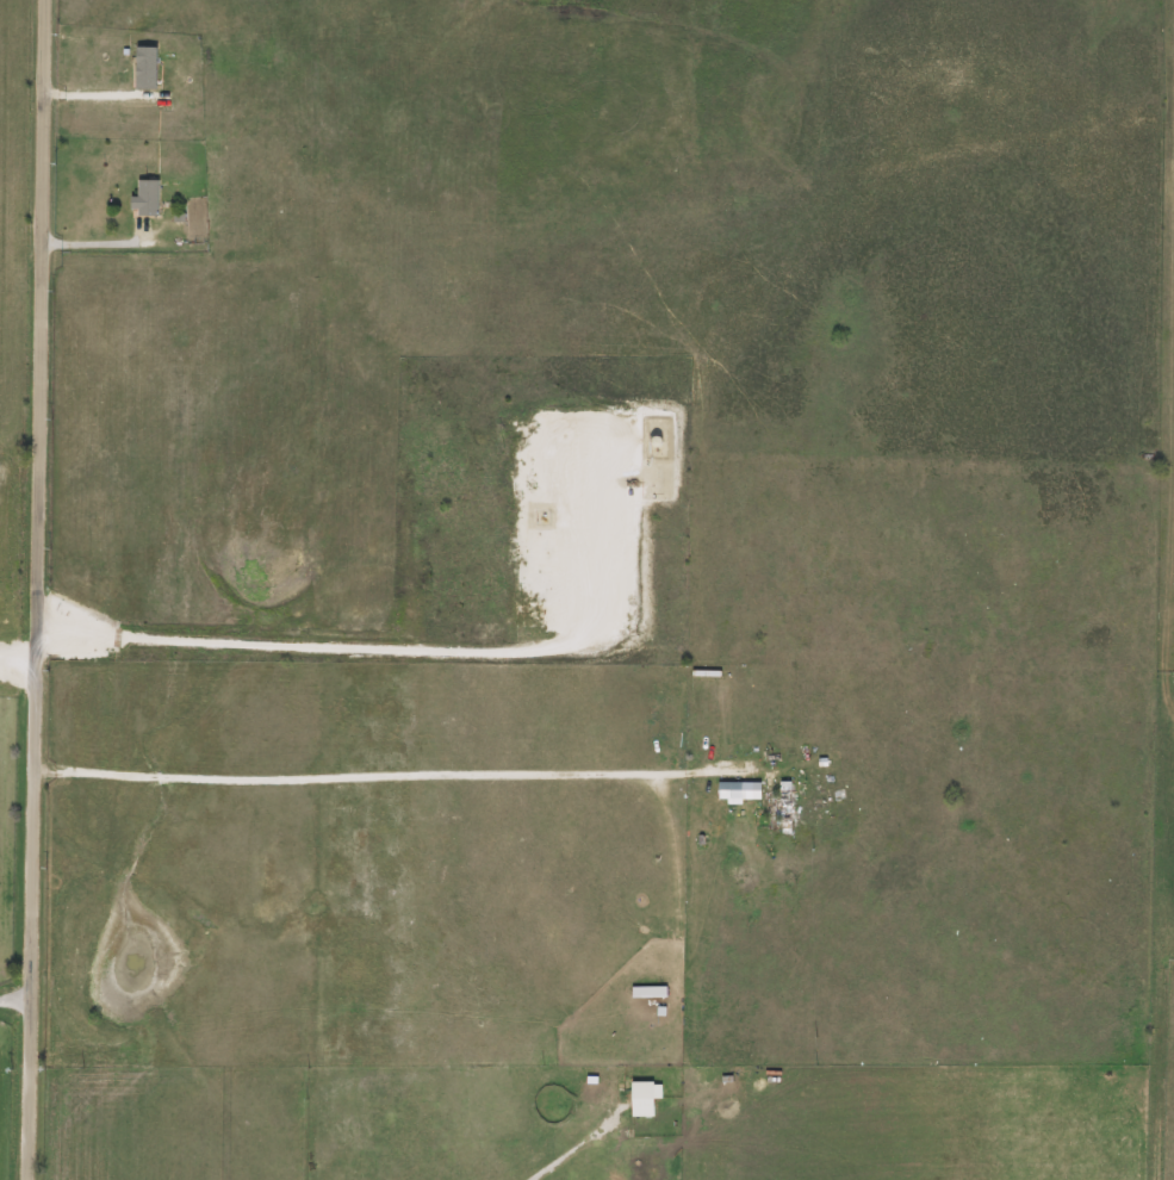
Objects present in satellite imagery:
building: (143, 199)
road: (41, 590)
road: (350, 770)
building: (733, 793)
building: (774, 808)
building: (645, 993)
road: (15, 1002)
building: (639, 1100)
road: (567, 1150)

